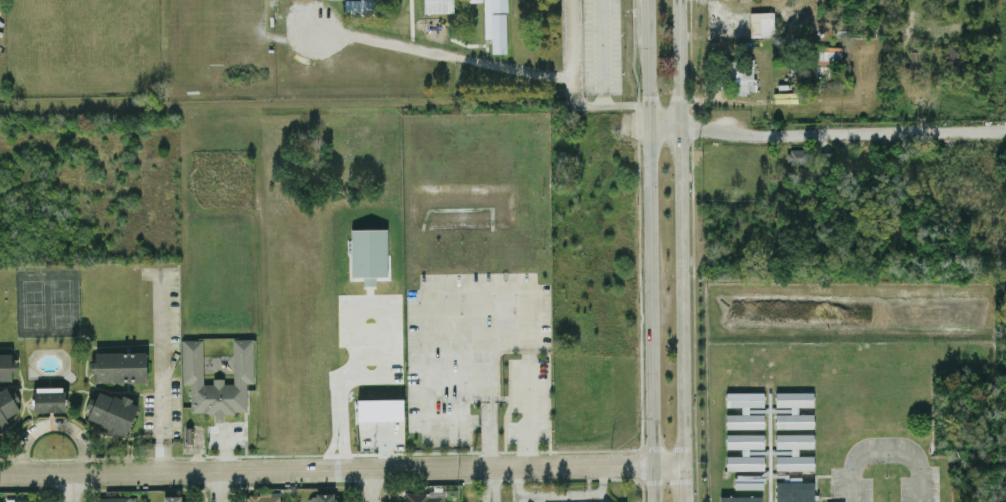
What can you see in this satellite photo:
building: (296, 1)
building: (487, 21)
building: (761, 24)
road: (603, 52)
building: (956, 54)
road: (445, 55)
building: (830, 55)
building: (915, 56)
building: (742, 76)
road: (573, 88)
road: (828, 127)
building: (799, 155)
building: (825, 158)
road: (652, 250)
road: (682, 251)
building: (369, 254)
road: (496, 289)
road: (380, 308)
road: (159, 357)
building: (7, 366)
building: (119, 366)
building: (218, 379)
building: (49, 399)
building: (745, 399)
building: (7, 405)
building: (380, 409)
building: (794, 409)
building: (112, 412)
building: (745, 420)
road: (51, 425)
road: (886, 450)
building: (794, 451)
road: (160, 456)
road: (341, 469)
road: (603, 478)
building: (749, 481)
road: (490, 484)
road: (371, 485)
road: (219, 486)
road: (70, 487)
building: (794, 491)
road: (548, 494)
building: (424, 496)
building: (263, 497)
building: (322, 497)
building: (172, 498)
building: (117, 499)
building: (25, 500)

